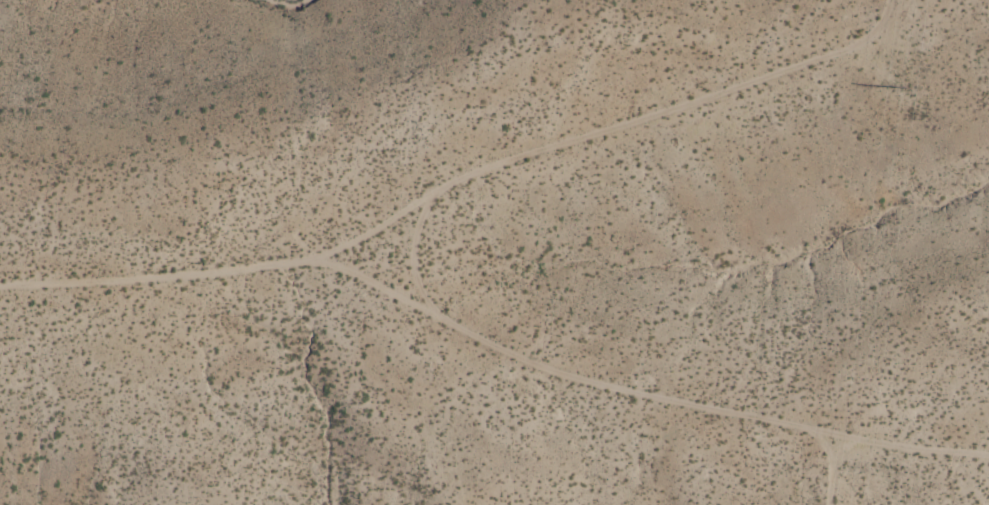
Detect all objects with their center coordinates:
power tower: (899, 86)
road: (412, 244)
road: (205, 270)

